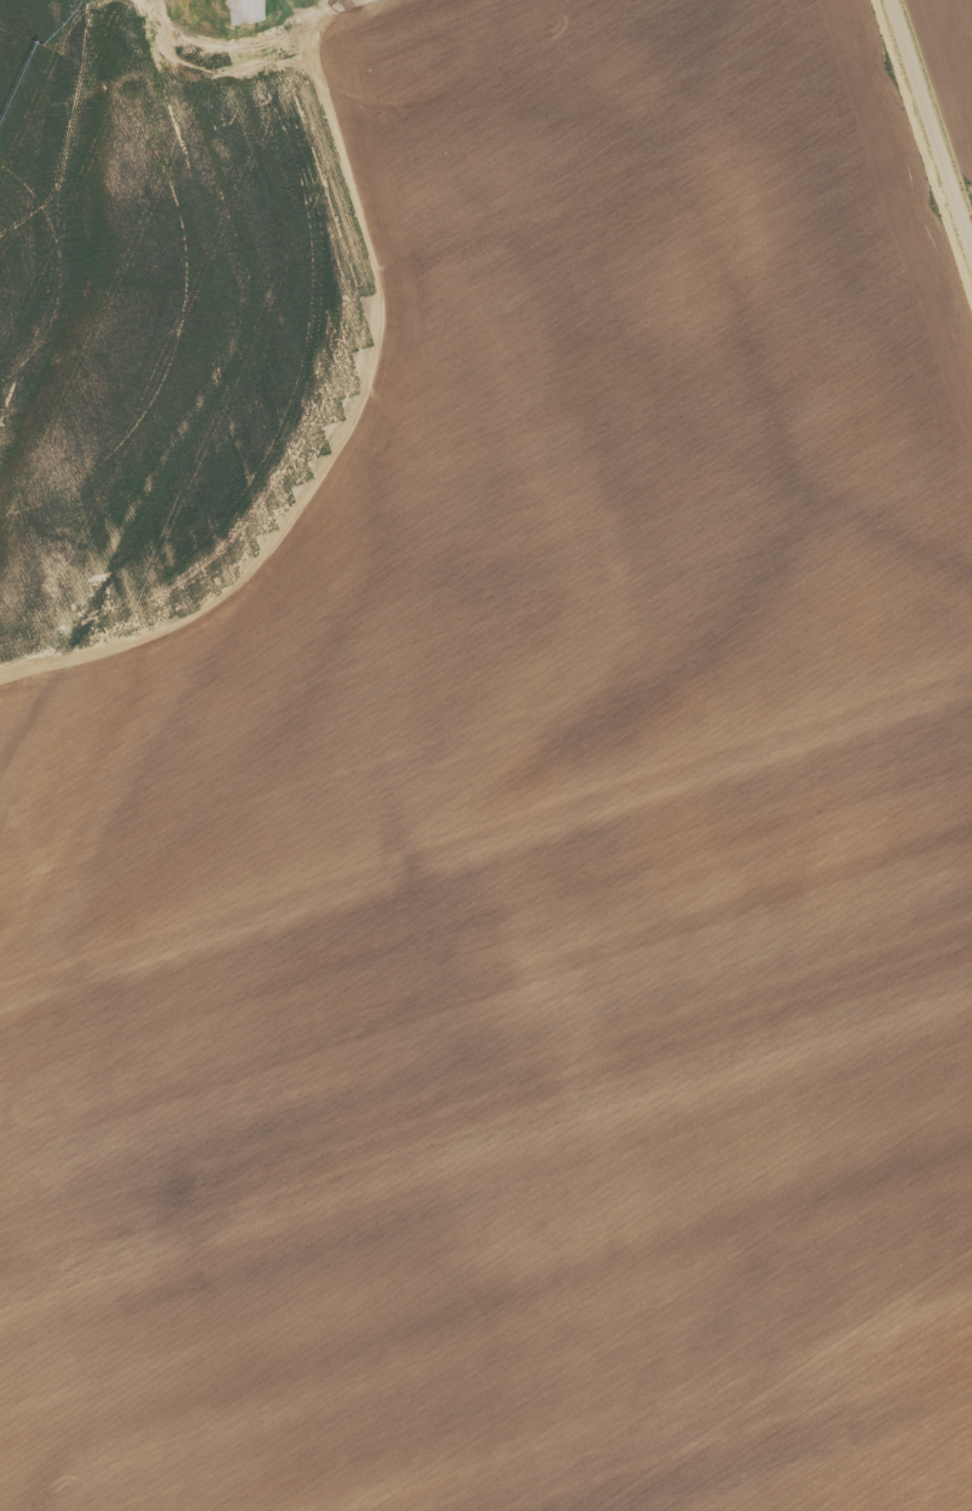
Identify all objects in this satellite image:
airport runway: (250, 5)
road: (270, 74)
road: (932, 120)

